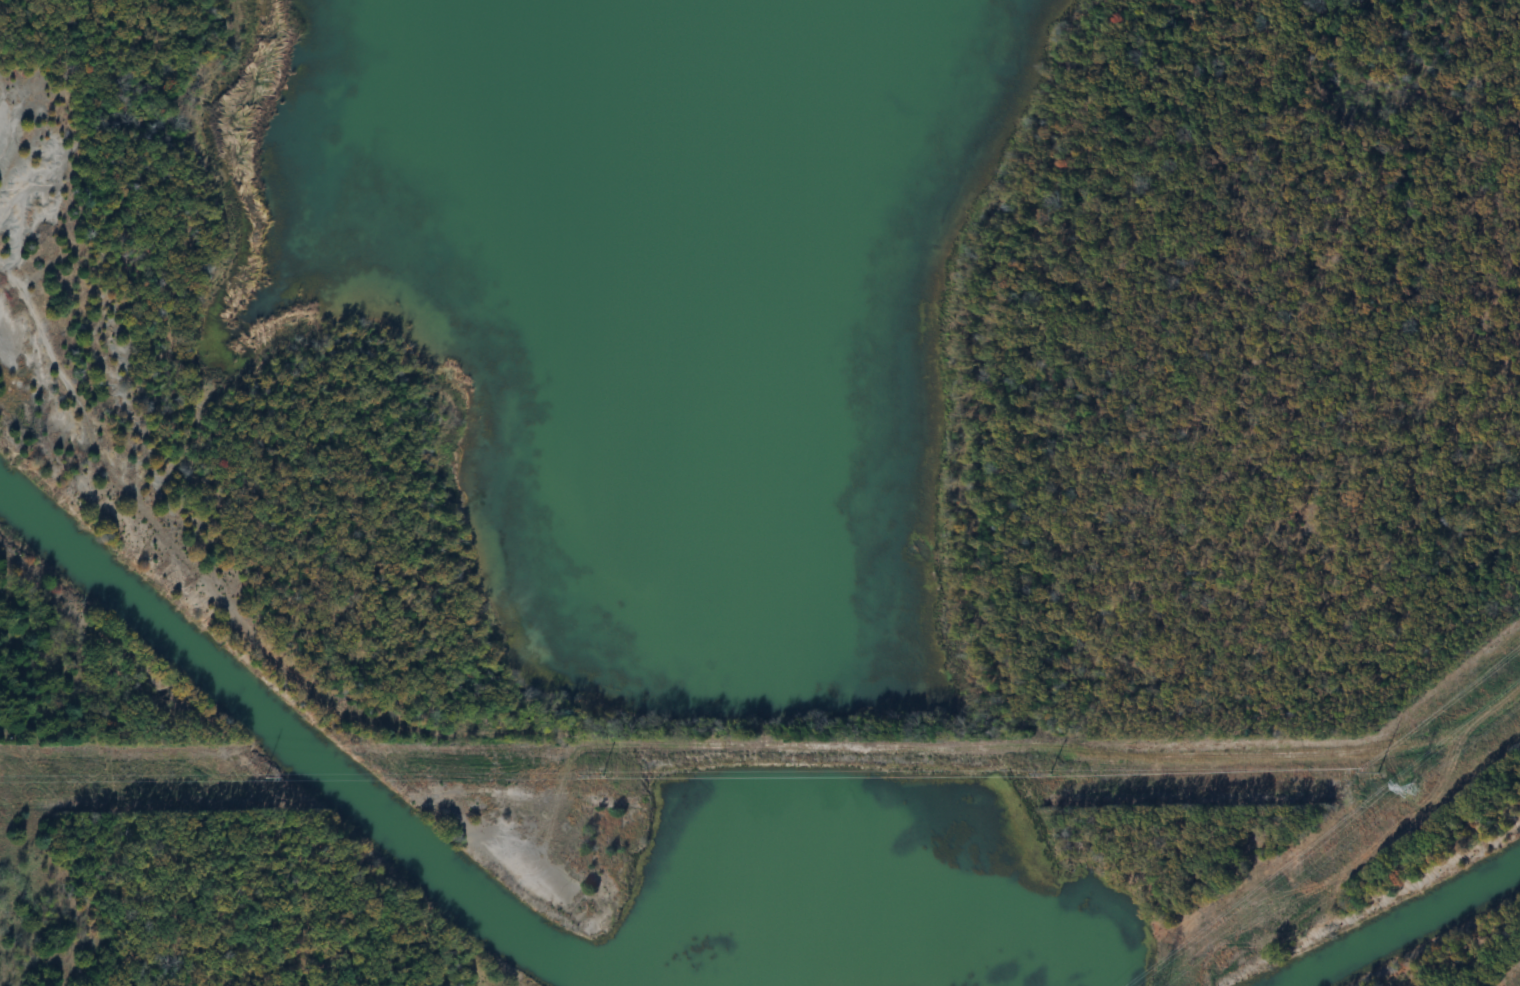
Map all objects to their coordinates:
road: (908, 762)
power tower: (1377, 770)
power tower: (601, 776)
power tower: (1042, 776)
power tower: (268, 780)
power tower: (1407, 792)

